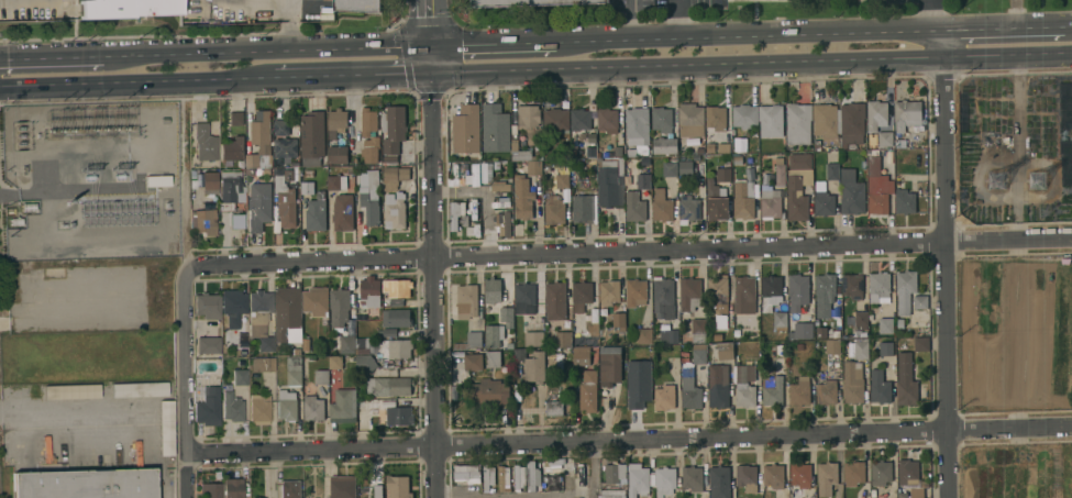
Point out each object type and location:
building: (530, 2)
building: (357, 5)
building: (125, 8)
road: (938, 15)
road: (675, 20)
road: (634, 21)
road: (1007, 30)
road: (432, 36)
road: (749, 37)
road: (495, 45)
road: (942, 45)
traffic signals: (433, 47)
road: (267, 53)
road: (1007, 55)
road: (51, 58)
road: (688, 66)
traffic signals: (433, 74)
road: (351, 76)
road: (133, 82)
building: (907, 114)
building: (876, 115)
building: (744, 117)
building: (692, 118)
building: (716, 118)
building: (235, 119)
building: (664, 119)
building: (336, 120)
building: (555, 120)
building: (607, 120)
building: (581, 121)
building: (771, 121)
building: (368, 122)
building: (530, 122)
building: (825, 122)
building: (798, 123)
building: (852, 123)
building: (637, 125)
building: (281, 126)
building: (394, 129)
building: (466, 129)
building: (495, 129)
building: (312, 137)
building: (885, 139)
building: (259, 140)
building: (203, 142)
building: (664, 143)
building: (231, 147)
building: (287, 151)
building: (519, 152)
building: (338, 155)
building: (371, 155)
building: (874, 165)
building: (685, 167)
building: (670, 168)
building: (780, 171)
building: (832, 171)
road: (184, 173)
building: (487, 174)
building: (475, 175)
building: (723, 175)
building: (394, 177)
building: (455, 177)
building: (560, 177)
power tower: (1048, 180)
power substation: (89, 181)
building: (209, 182)
building: (336, 182)
building: (608, 184)
building: (230, 185)
building: (798, 185)
power tower: (1007, 185)
building: (499, 186)
building: (307, 187)
building: (320, 188)
building: (526, 190)
road: (40, 192)
building: (878, 193)
building: (369, 195)
building: (638, 196)
building: (285, 197)
building: (852, 198)
building: (744, 199)
building: (822, 200)
building: (715, 201)
building: (905, 201)
building: (770, 202)
building: (662, 206)
building: (258, 207)
building: (474, 208)
building: (584, 208)
building: (688, 209)
building: (395, 211)
building: (554, 211)
building: (343, 212)
building: (458, 214)
building: (316, 215)
building: (205, 221)
building: (504, 225)
building: (473, 230)
road: (629, 251)
road: (948, 277)
road: (435, 285)
building: (852, 286)
building: (880, 287)
building: (397, 288)
building: (493, 290)
building: (905, 290)
building: (371, 291)
building: (609, 291)
building: (771, 291)
building: (798, 291)
building: (636, 292)
building: (689, 294)
building: (825, 294)
building: (744, 295)
building: (581, 297)
building: (720, 297)
building: (663, 298)
building: (524, 299)
building: (316, 301)
building: (466, 301)
building: (555, 301)
building: (920, 301)
building: (208, 306)
building: (341, 308)
building: (235, 309)
building: (287, 313)
building: (362, 313)
building: (507, 316)
building: (396, 318)
building: (861, 318)
building: (261, 319)
building: (780, 319)
building: (619, 321)
building: (885, 325)
building: (698, 330)
building: (802, 331)
building: (644, 332)
building: (720, 332)
building: (387, 333)
building: (495, 336)
building: (668, 336)
building: (533, 339)
building: (562, 340)
building: (581, 340)
building: (469, 341)
building: (921, 343)
building: (347, 344)
building: (208, 345)
building: (362, 345)
building: (832, 346)
building: (395, 348)
building: (885, 348)
building: (861, 350)
building: (725, 351)
building: (699, 354)
building: (581, 355)
building: (493, 358)
building: (335, 362)
building: (473, 362)
building: (366, 363)
building: (262, 365)
building: (531, 365)
building: (610, 365)
building: (294, 370)
building: (321, 376)
building: (240, 377)
building: (906, 380)
road: (187, 381)
building: (853, 383)
building: (638, 384)
building: (388, 386)
building: (718, 386)
building: (880, 386)
building: (139, 389)
building: (772, 390)
building: (70, 391)
building: (489, 391)
building: (588, 391)
building: (799, 391)
building: (827, 392)
building: (690, 394)
building: (286, 395)
building: (745, 395)
building: (664, 398)
building: (207, 405)
building: (232, 407)
building: (343, 407)
building: (313, 408)
building: (554, 408)
building: (259, 409)
road: (73, 410)
building: (287, 410)
building: (390, 411)
building: (165, 428)
road: (629, 441)
building: (553, 465)
building: (581, 469)
road: (593, 471)
building: (615, 472)
building: (468, 473)
building: (854, 473)
building: (881, 473)
building: (800, 475)
building: (488, 476)
building: (533, 476)
building: (747, 476)
building: (773, 476)
building: (519, 477)
building: (826, 477)
building: (911, 477)
building: (504, 478)
building: (693, 478)
building: (638, 480)
building: (665, 480)
building: (81, 482)
building: (719, 482)
building: (551, 483)
building: (342, 486)
building: (398, 486)
building: (232, 488)
building: (211, 489)
building: (290, 489)
building: (612, 494)
building: (258, 497)
road: (516, 497)

